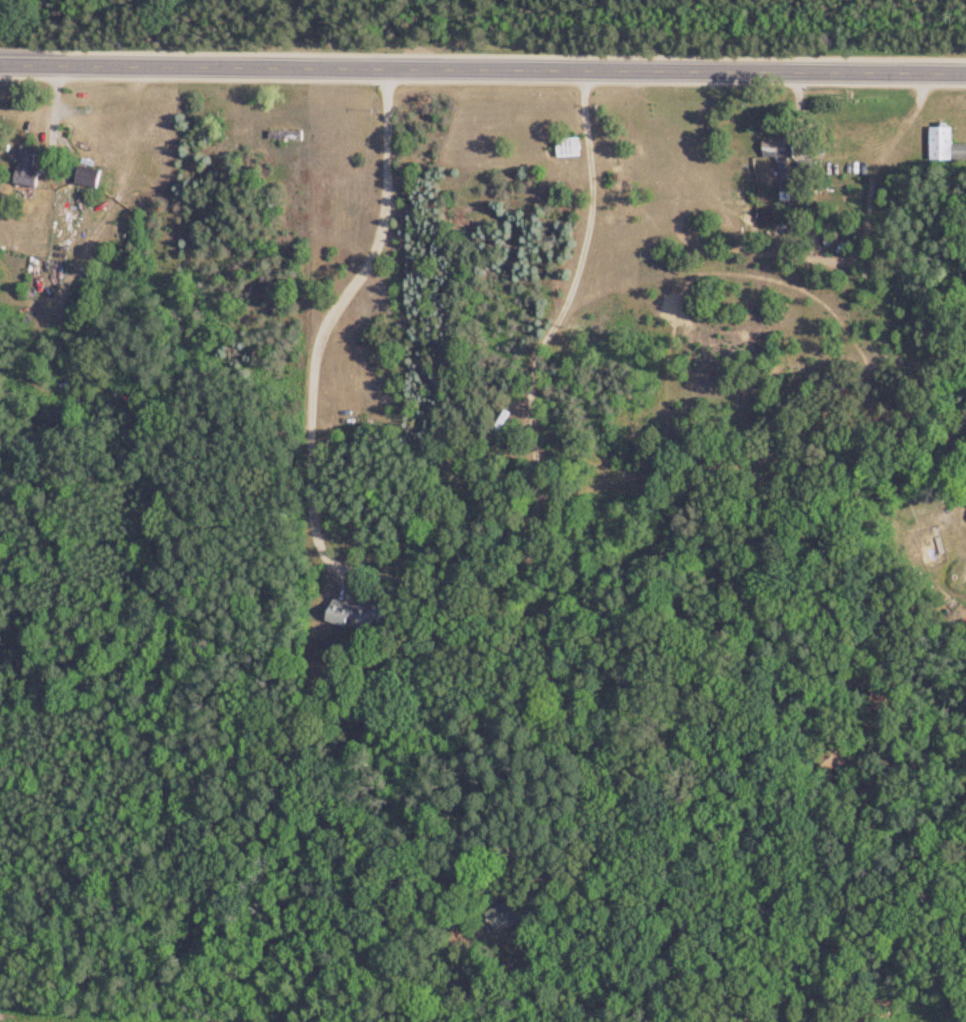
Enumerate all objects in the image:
road: (301, 31)
road: (483, 65)
building: (282, 136)
building: (944, 147)
building: (566, 149)
building: (776, 150)
building: (25, 166)
road: (325, 319)

